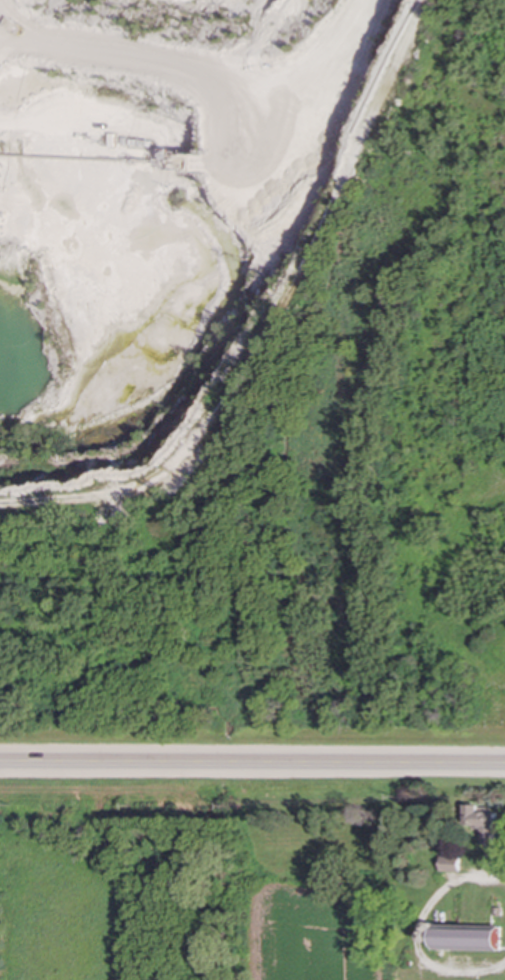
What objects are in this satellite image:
quarry: (252, 375)
road: (252, 763)
building: (482, 822)
building: (449, 864)
road: (419, 930)
crop: (300, 935)
building: (467, 938)

